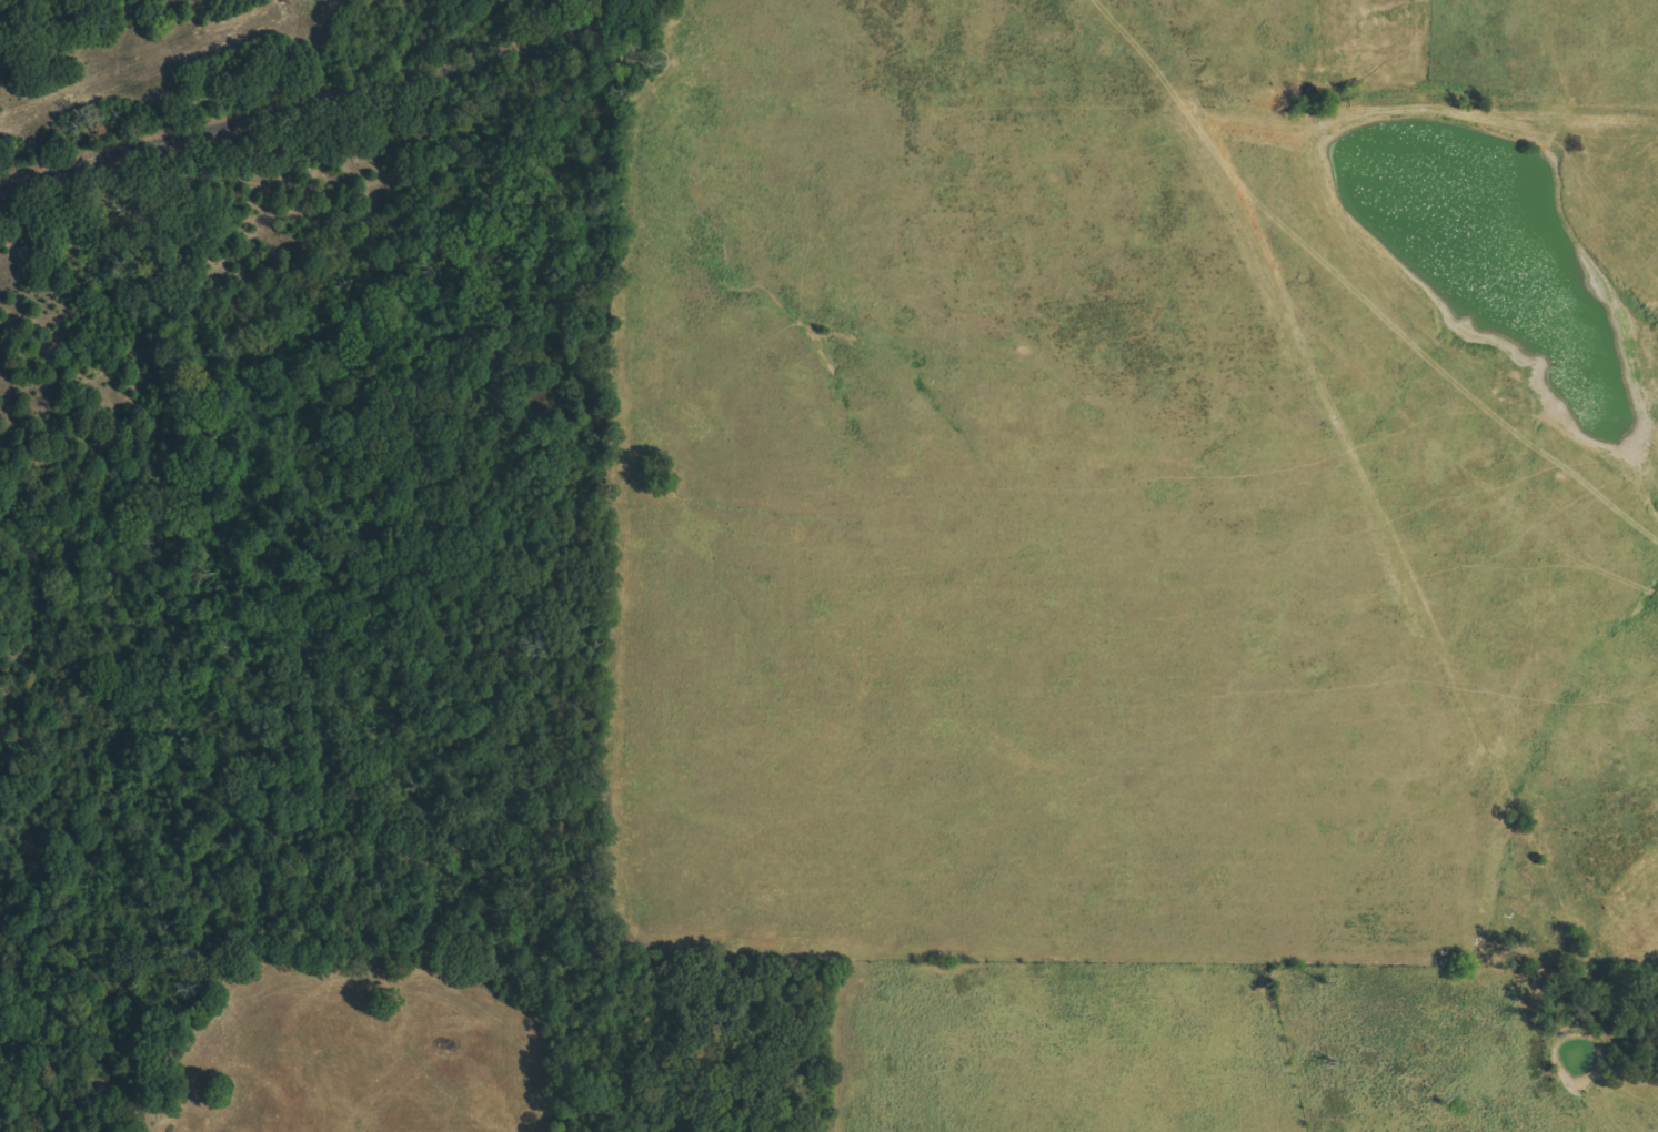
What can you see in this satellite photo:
power tower: (311, 0)
road: (629, 6)
road: (1173, 52)
power tower: (67, 97)
road: (309, 102)

